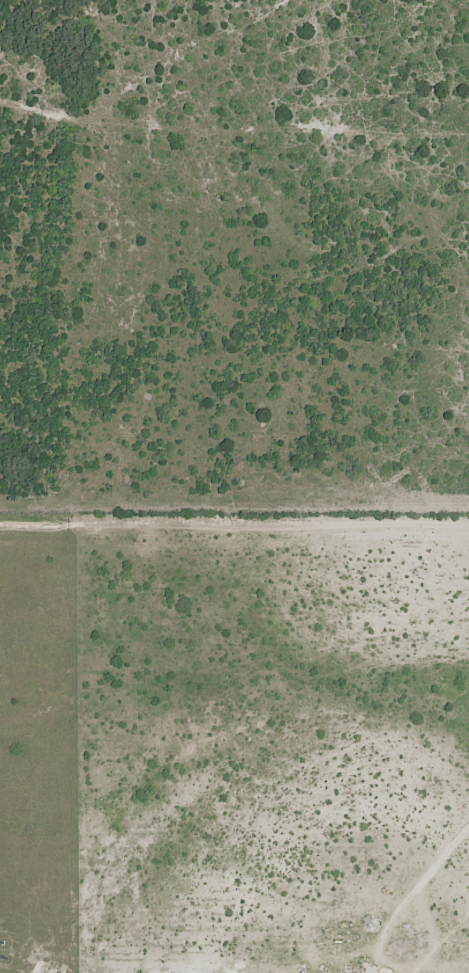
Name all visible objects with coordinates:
road: (234, 522)
road: (428, 874)

